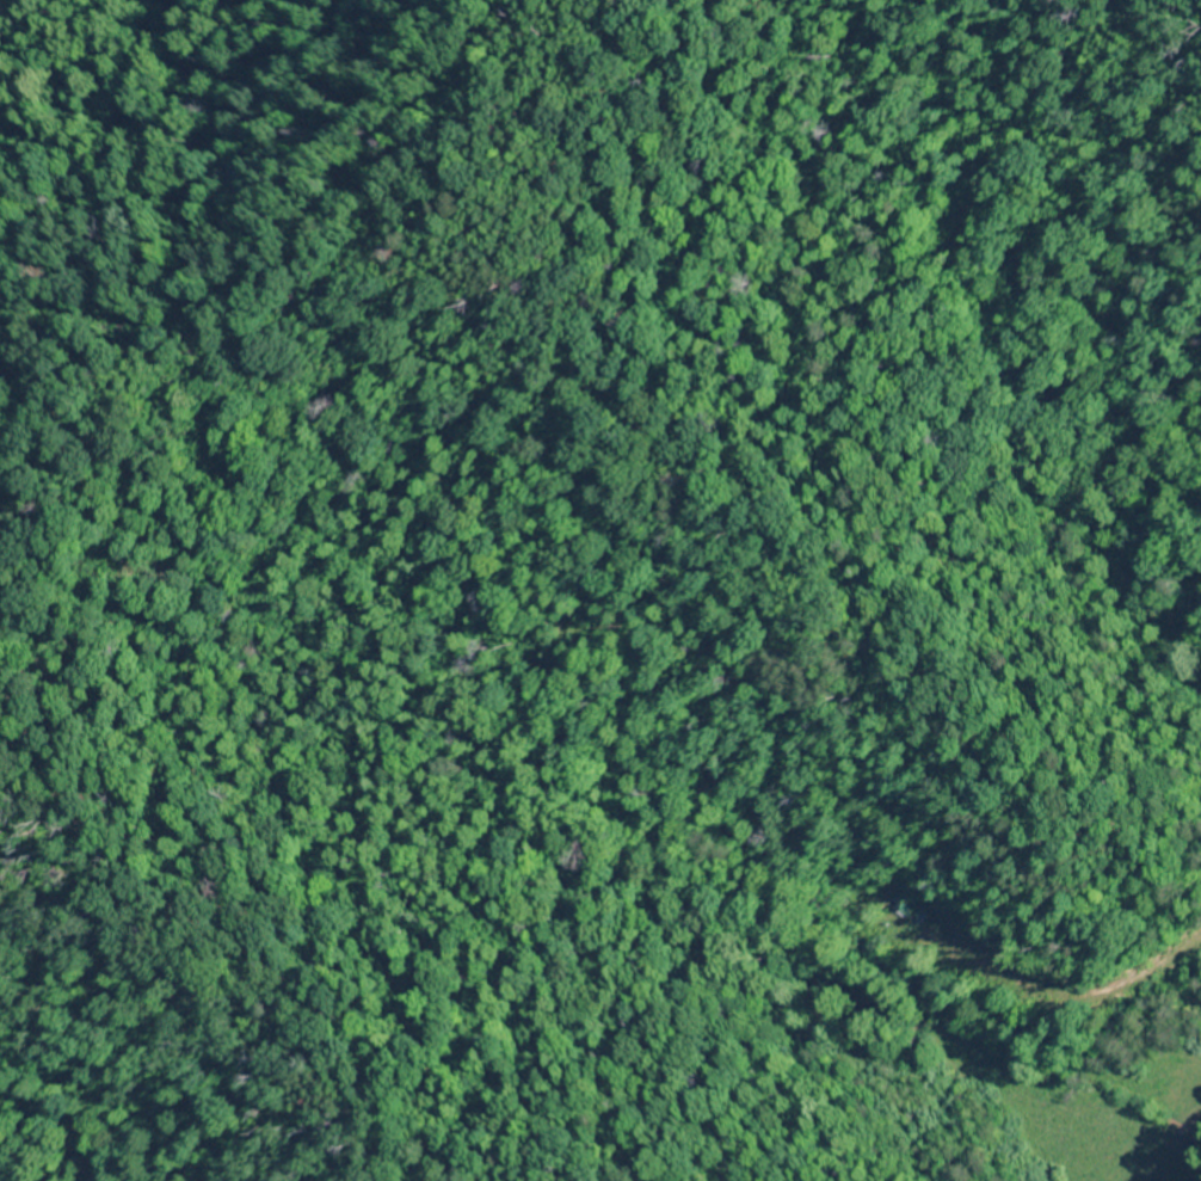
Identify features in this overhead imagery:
building: (897, 908)

